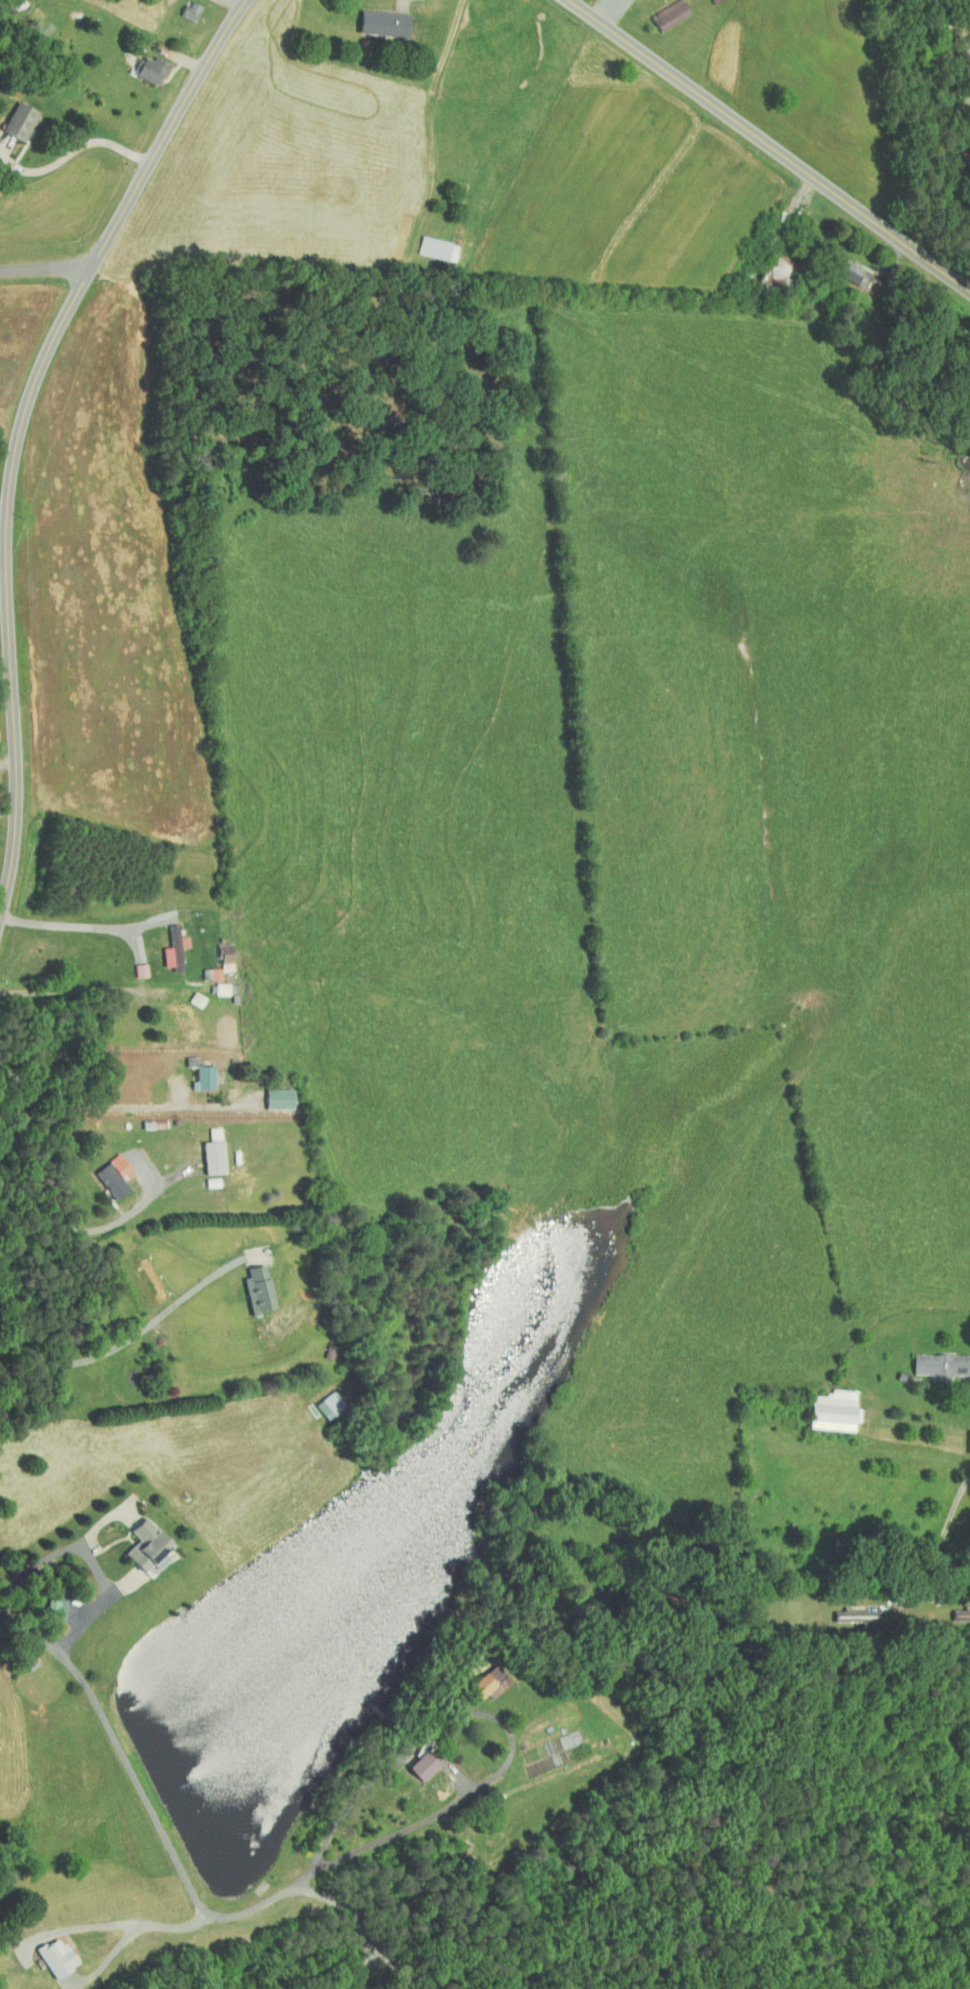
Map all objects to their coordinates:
building: (660, 11)
building: (374, 18)
building: (140, 64)
building: (11, 116)
road: (770, 145)
road: (76, 151)
road: (951, 194)
building: (428, 243)
building: (842, 267)
building: (764, 269)
road: (45, 271)
road: (19, 430)
road: (8, 761)
road: (8, 805)
road: (79, 926)
building: (164, 943)
building: (210, 958)
building: (131, 964)
building: (212, 983)
road: (66, 990)
building: (193, 1068)
building: (269, 1092)
road: (113, 1104)
building: (204, 1147)
building: (105, 1170)
building: (202, 1176)
road: (77, 1232)
building: (248, 1284)
road: (134, 1336)
building: (931, 1360)
building: (319, 1400)
building: (824, 1405)
building: (964, 1436)
road: (945, 1473)
building: (137, 1542)
road: (938, 1549)
road: (91, 1558)
building: (47, 1600)
building: (956, 1608)
building: (846, 1611)
building: (481, 1677)
building: (414, 1760)
road: (187, 1879)
road: (143, 1922)
road: (359, 1922)
building: (46, 1952)
road: (108, 1959)
road: (396, 1968)
building: (349, 1987)

